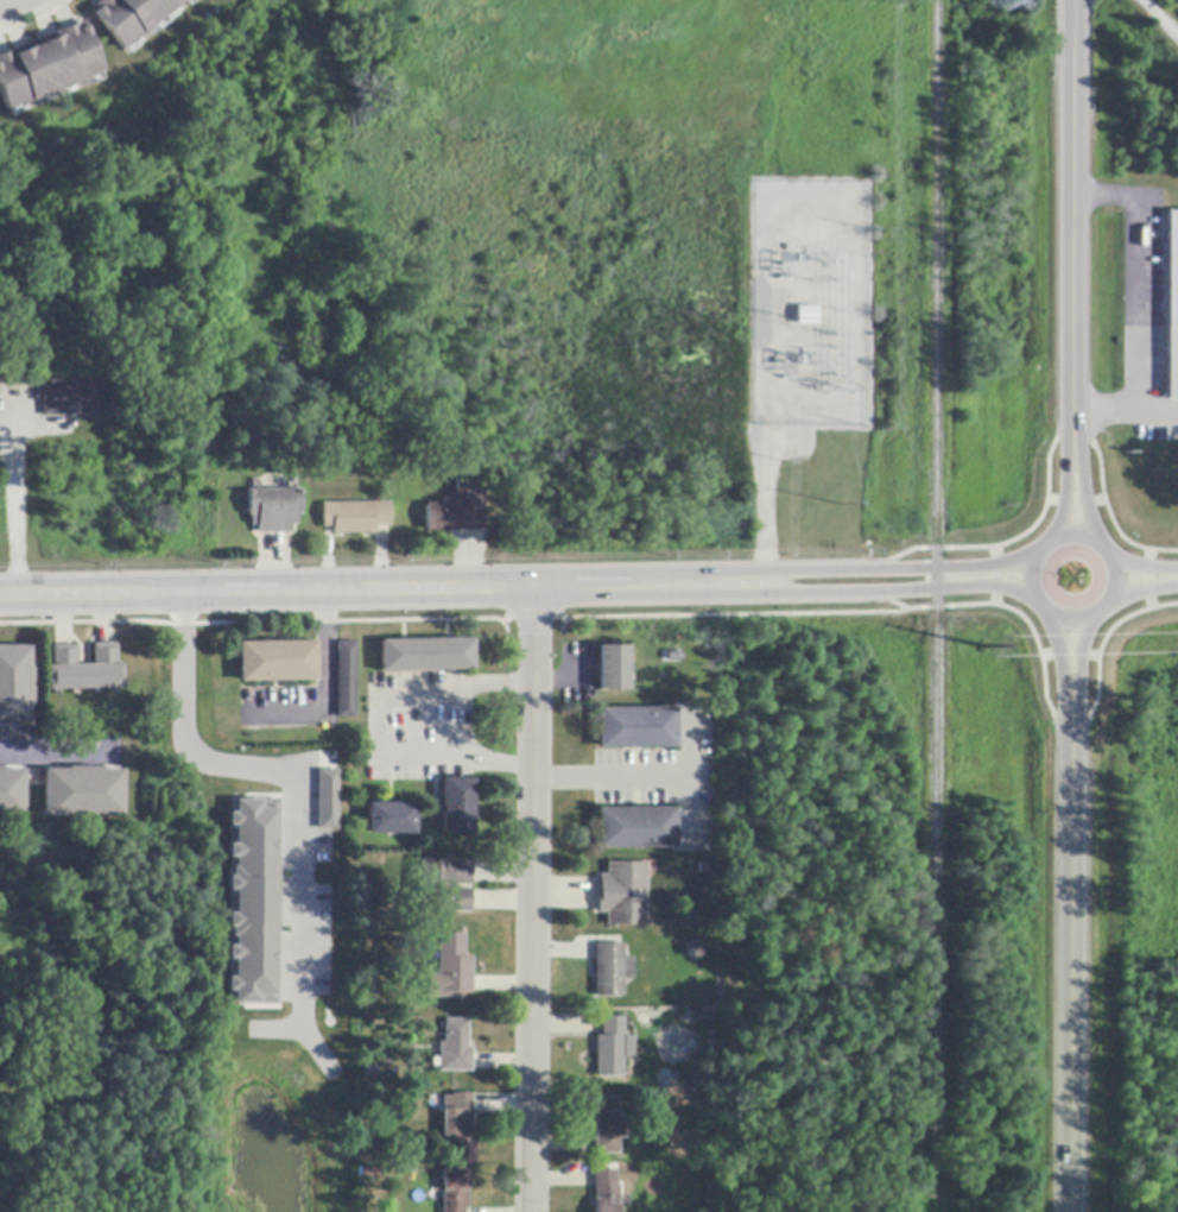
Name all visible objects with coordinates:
road: (8, 4)
power tower: (887, 4)
power tower: (1000, 7)
building: (129, 17)
road: (1157, 20)
park: (403, 62)
building: (47, 65)
power tower: (885, 231)
road: (1073, 235)
road: (1134, 301)
power substation: (811, 302)
building: (1173, 307)
building: (807, 315)
power tower: (840, 391)
building: (70, 402)
road: (1148, 411)
power tower: (882, 433)
building: (458, 509)
road: (1065, 509)
building: (273, 510)
road: (1083, 510)
road: (11, 516)
building: (355, 516)
road: (1141, 568)
road: (907, 569)
road: (908, 587)
road: (388, 591)
road: (1140, 591)
railway: (933, 605)
road: (1097, 613)
power tower: (986, 649)
road: (1059, 650)
road: (1078, 650)
building: (426, 655)
building: (277, 661)
building: (613, 668)
building: (84, 669)
building: (346, 680)
road: (180, 683)
building: (14, 687)
road: (325, 689)
road: (378, 727)
building: (636, 728)
road: (45, 751)
road: (609, 772)
road: (684, 774)
building: (11, 793)
building: (82, 793)
building: (325, 797)
building: (457, 807)
building: (391, 819)
building: (636, 828)
road: (298, 852)
building: (444, 886)
building: (623, 895)
building: (255, 901)
road: (533, 901)
road: (1070, 951)
building: (451, 967)
building: (609, 971)
building: (455, 1047)
building: (612, 1048)
railway: (924, 1092)
building: (456, 1118)
building: (609, 1126)
building: (369, 1173)
building: (454, 1188)
building: (606, 1191)
park: (95, 1210)

